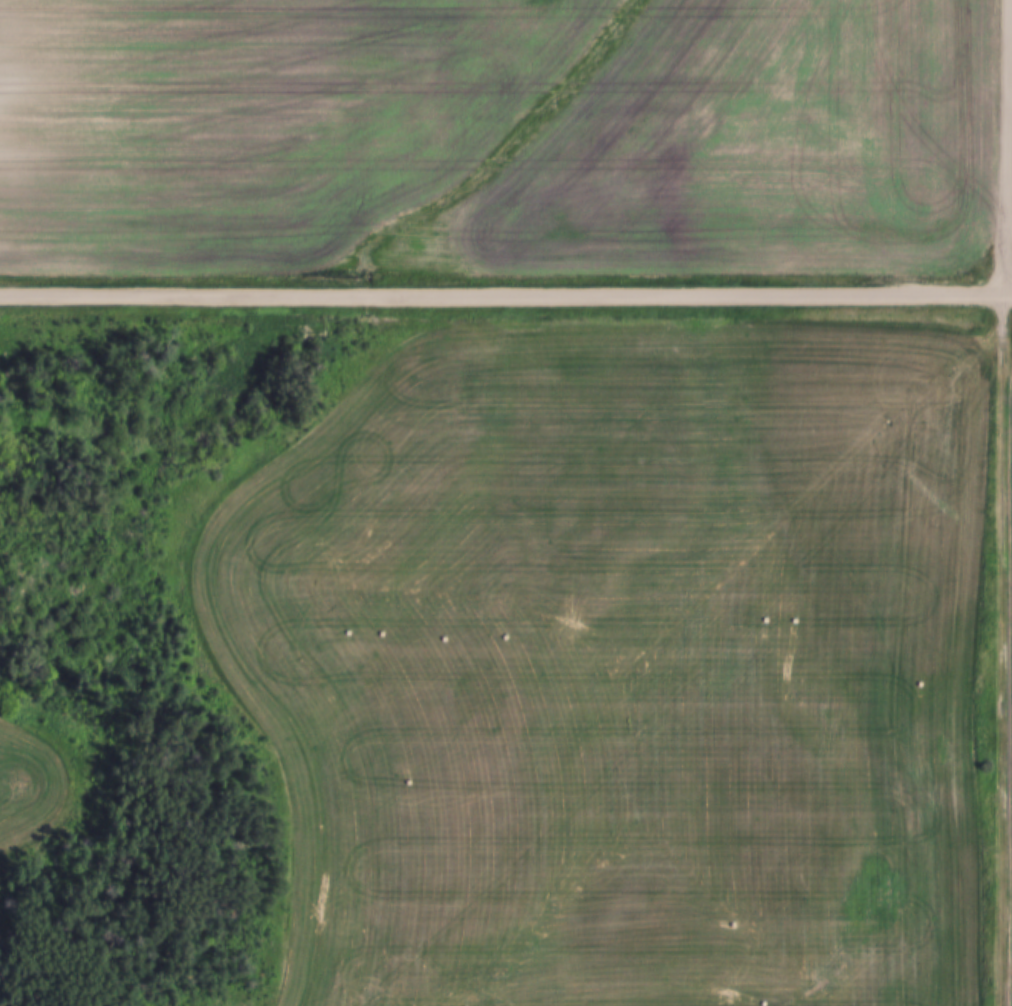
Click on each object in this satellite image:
road: (1011, 276)
road: (505, 295)
road: (1002, 650)

